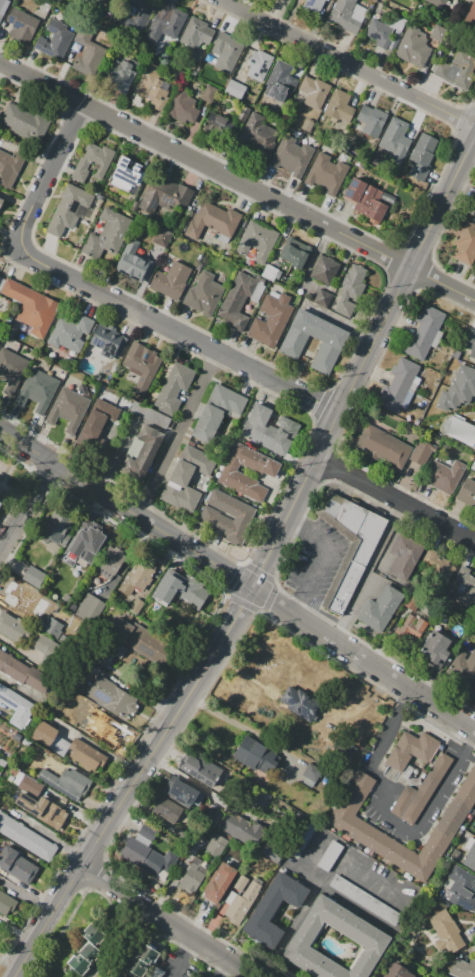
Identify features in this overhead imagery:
building: (81, 1)
building: (100, 1)
building: (440, 2)
building: (2, 4)
building: (312, 6)
building: (348, 14)
building: (470, 14)
building: (137, 18)
building: (165, 23)
building: (22, 26)
building: (379, 33)
building: (438, 33)
building: (196, 35)
building: (54, 40)
building: (413, 46)
building: (227, 50)
building: (89, 59)
road: (349, 62)
building: (259, 65)
building: (455, 69)
building: (122, 73)
building: (282, 82)
building: (154, 86)
building: (233, 88)
building: (314, 92)
building: (208, 93)
building: (336, 104)
building: (182, 108)
building: (25, 122)
building: (368, 123)
building: (217, 124)
building: (307, 125)
building: (257, 134)
building: (395, 143)
building: (292, 157)
building: (422, 157)
building: (93, 162)
building: (10, 167)
building: (402, 174)
building: (127, 175)
building: (327, 175)
road: (238, 181)
building: (165, 195)
building: (367, 199)
building: (1, 201)
building: (69, 210)
building: (211, 220)
building: (108, 233)
building: (257, 241)
building: (465, 245)
building: (296, 256)
building: (132, 262)
building: (325, 270)
building: (171, 280)
building: (349, 290)
building: (204, 293)
road: (105, 297)
building: (323, 298)
building: (238, 300)
building: (31, 308)
building: (271, 319)
building: (0, 331)
building: (423, 332)
building: (71, 333)
building: (1, 336)
building: (468, 343)
building: (330, 345)
building: (103, 353)
road: (363, 361)
building: (142, 367)
building: (11, 370)
building: (405, 382)
building: (173, 389)
building: (37, 390)
building: (458, 390)
building: (68, 409)
building: (217, 411)
building: (150, 415)
building: (97, 424)
building: (269, 429)
building: (461, 431)
road: (177, 435)
building: (383, 447)
building: (141, 453)
building: (419, 457)
building: (198, 458)
building: (231, 475)
building: (444, 476)
building: (181, 490)
building: (467, 492)
road: (395, 498)
building: (0, 501)
building: (0, 504)
road: (24, 506)
road: (125, 509)
building: (213, 519)
building: (58, 528)
building: (85, 544)
building: (349, 545)
road: (321, 557)
building: (404, 557)
building: (110, 562)
road: (367, 570)
building: (441, 571)
building: (137, 576)
building: (34, 577)
building: (464, 586)
building: (60, 588)
building: (179, 589)
building: (26, 598)
building: (90, 608)
building: (380, 609)
building: (11, 625)
building: (414, 625)
building: (52, 627)
building: (145, 641)
building: (44, 646)
building: (434, 648)
road: (363, 657)
building: (463, 668)
building: (23, 673)
road: (16, 686)
building: (474, 690)
building: (111, 698)
building: (16, 702)
building: (300, 703)
building: (94, 710)
road: (167, 728)
building: (111, 734)
building: (50, 738)
road: (96, 746)
building: (411, 750)
building: (254, 754)
building: (95, 755)
building: (203, 772)
building: (311, 773)
road: (180, 775)
building: (30, 783)
building: (66, 783)
building: (177, 789)
building: (419, 791)
building: (43, 809)
building: (167, 811)
building: (210, 814)
road: (388, 817)
building: (243, 830)
building: (148, 831)
building: (27, 838)
building: (301, 839)
building: (371, 839)
building: (215, 845)
building: (272, 853)
building: (329, 856)
building: (144, 857)
building: (470, 858)
building: (17, 864)
building: (193, 876)
building: (219, 881)
building: (462, 889)
road: (316, 890)
building: (240, 899)
building: (365, 899)
building: (6, 905)
building: (274, 907)
road: (48, 922)
road: (170, 922)
building: (359, 929)
building: (446, 932)
building: (88, 952)
road: (184, 957)
building: (141, 960)
road: (221, 967)
building: (464, 968)
building: (398, 971)

